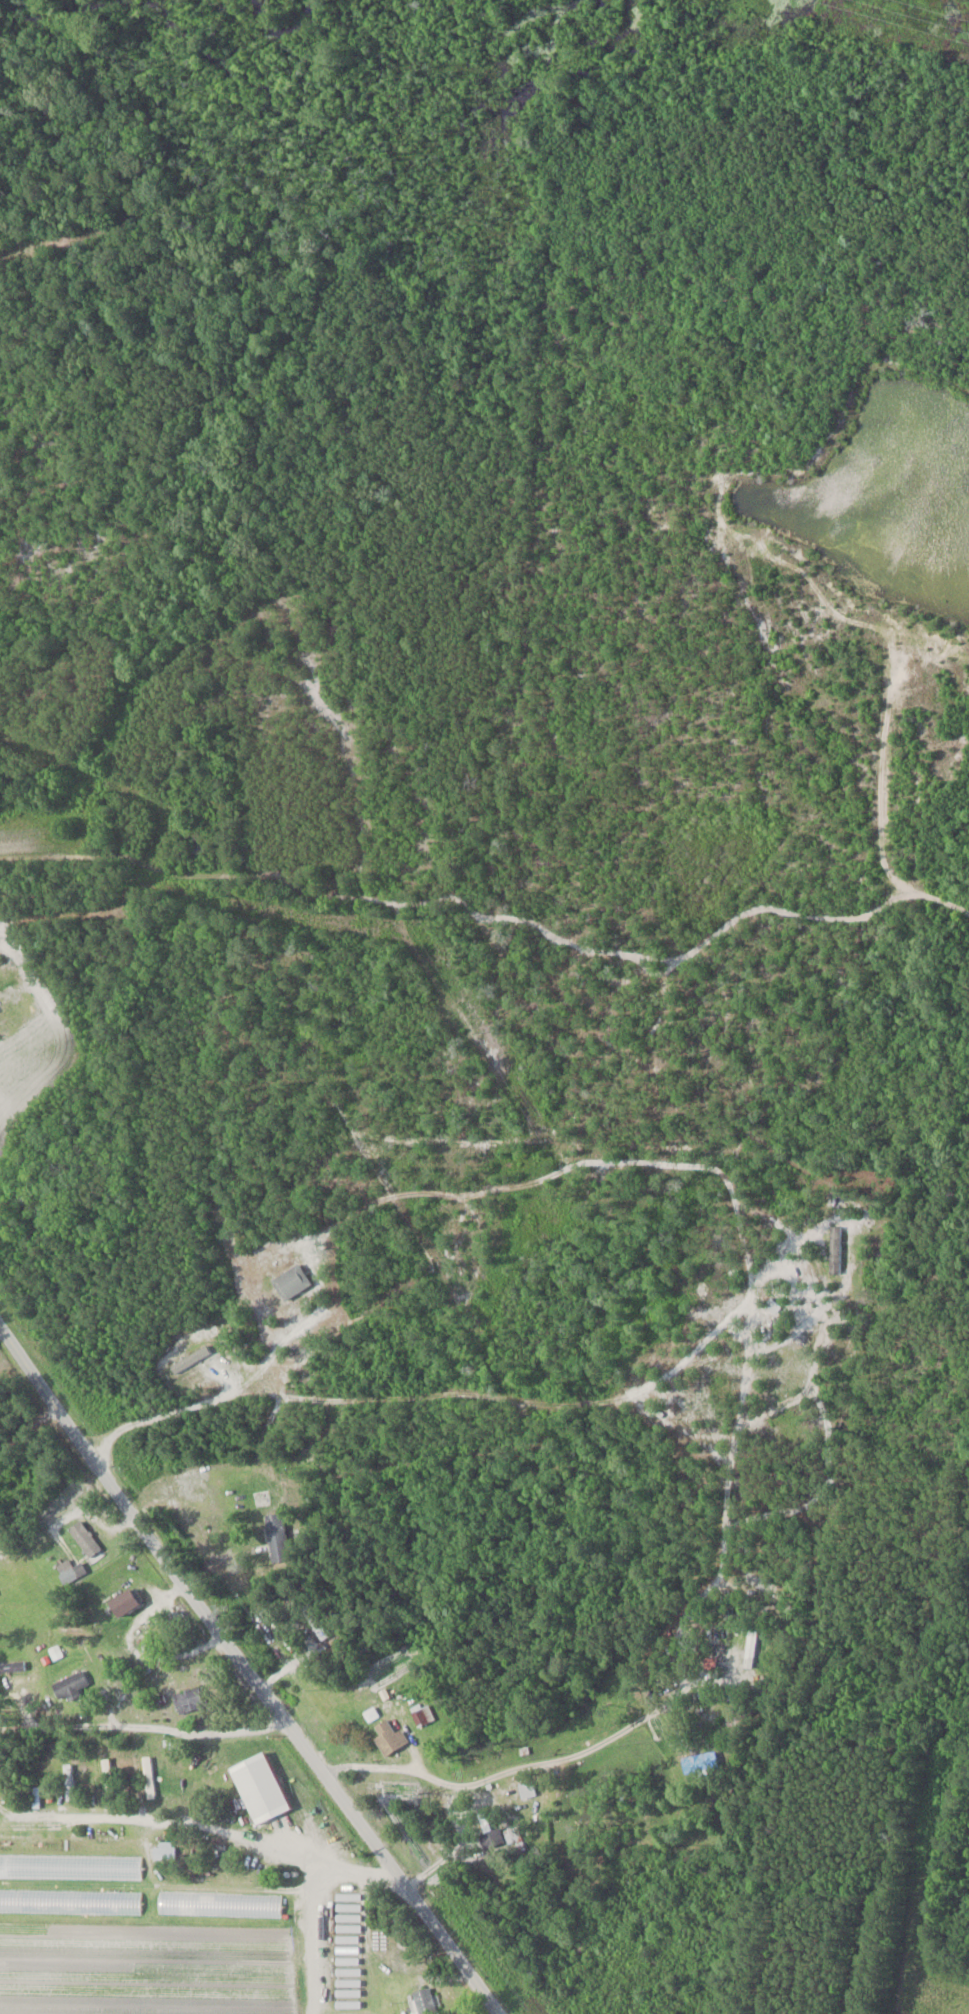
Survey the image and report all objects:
power tower: (957, 27)
road: (88, 596)
building: (200, 837)
road: (492, 899)
building: (292, 1282)
road: (275, 1346)
road: (425, 1394)
road: (732, 1443)
building: (278, 1537)
building: (85, 1538)
building: (73, 1574)
building: (127, 1602)
building: (316, 1622)
building: (12, 1667)
road: (247, 1670)
building: (71, 1686)
building: (191, 1699)
building: (423, 1715)
road: (145, 1723)
building: (390, 1737)
road: (570, 1757)
building: (699, 1762)
building: (149, 1777)
building: (261, 1787)
building: (528, 1789)
building: (513, 1835)
building: (492, 1837)
building: (164, 1850)
building: (70, 1867)
building: (70, 1902)
building: (220, 1904)
building: (330, 1982)
building: (425, 2002)

